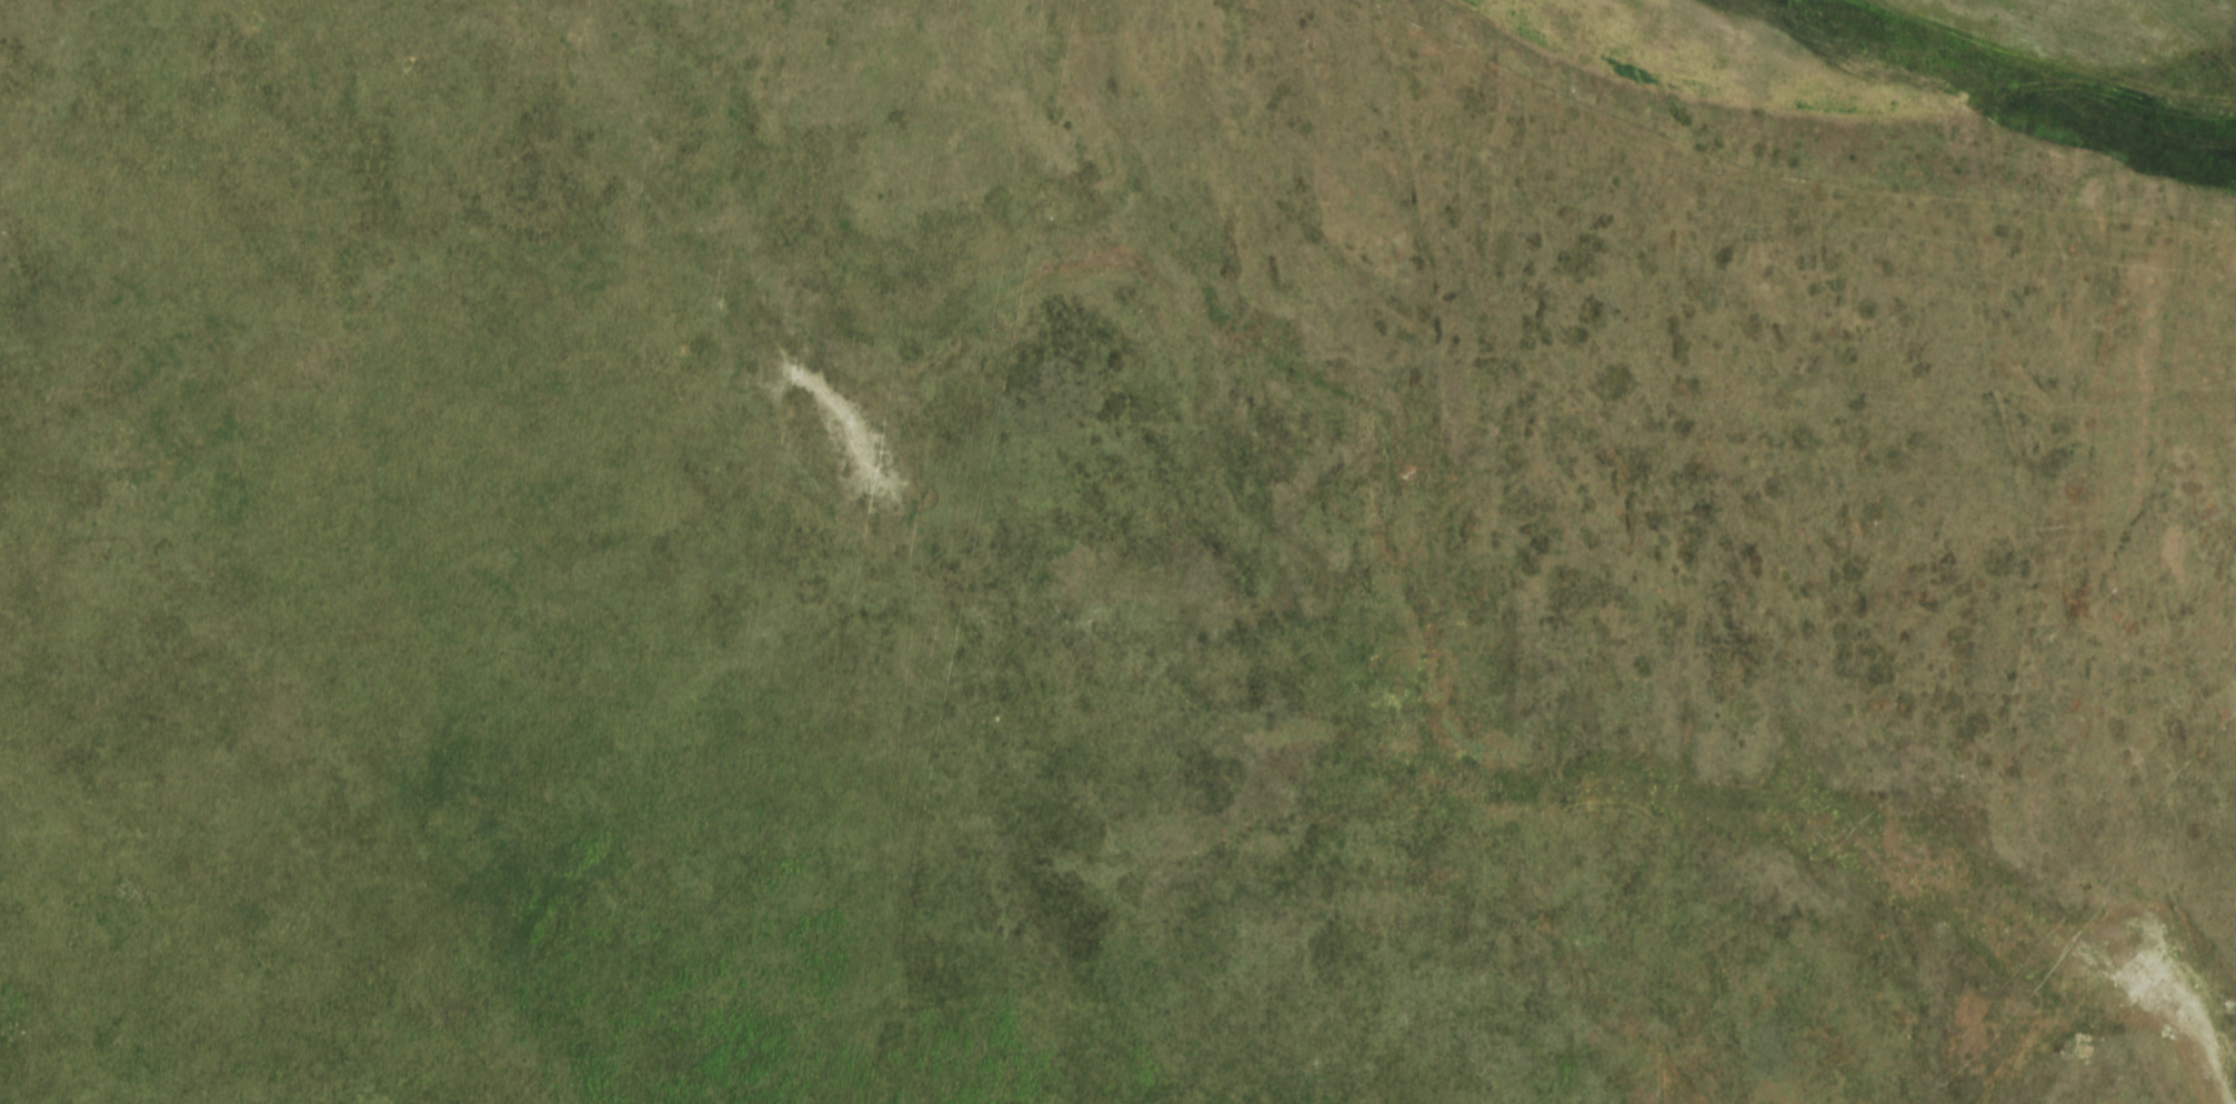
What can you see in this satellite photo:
crop: (2074, 30)

